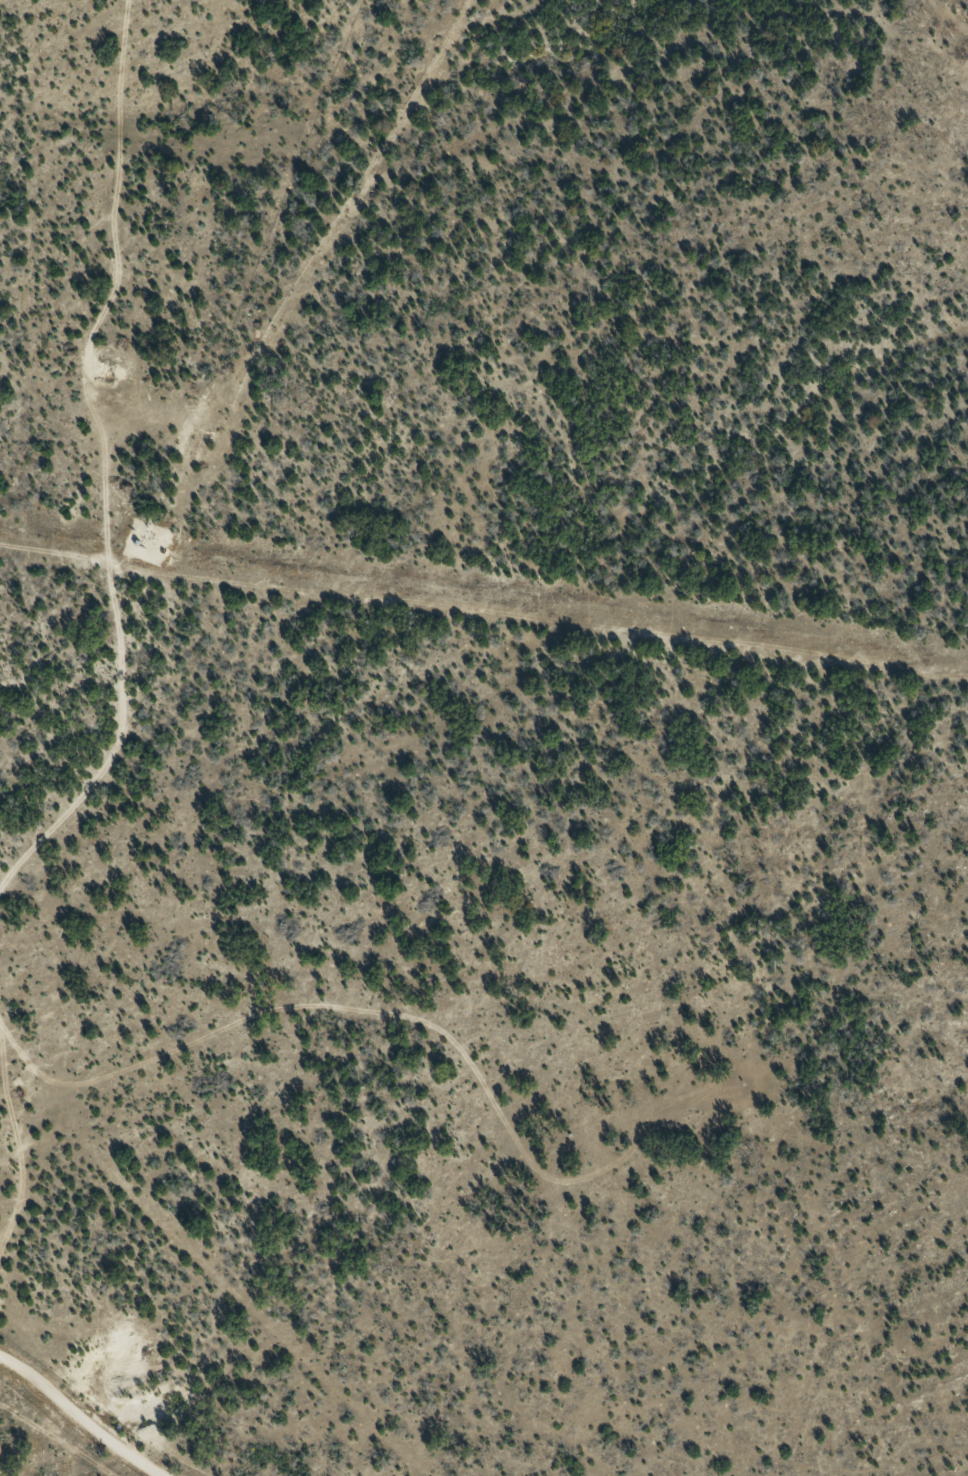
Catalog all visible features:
road: (122, 484)
road: (30, 1181)
road: (79, 1431)

